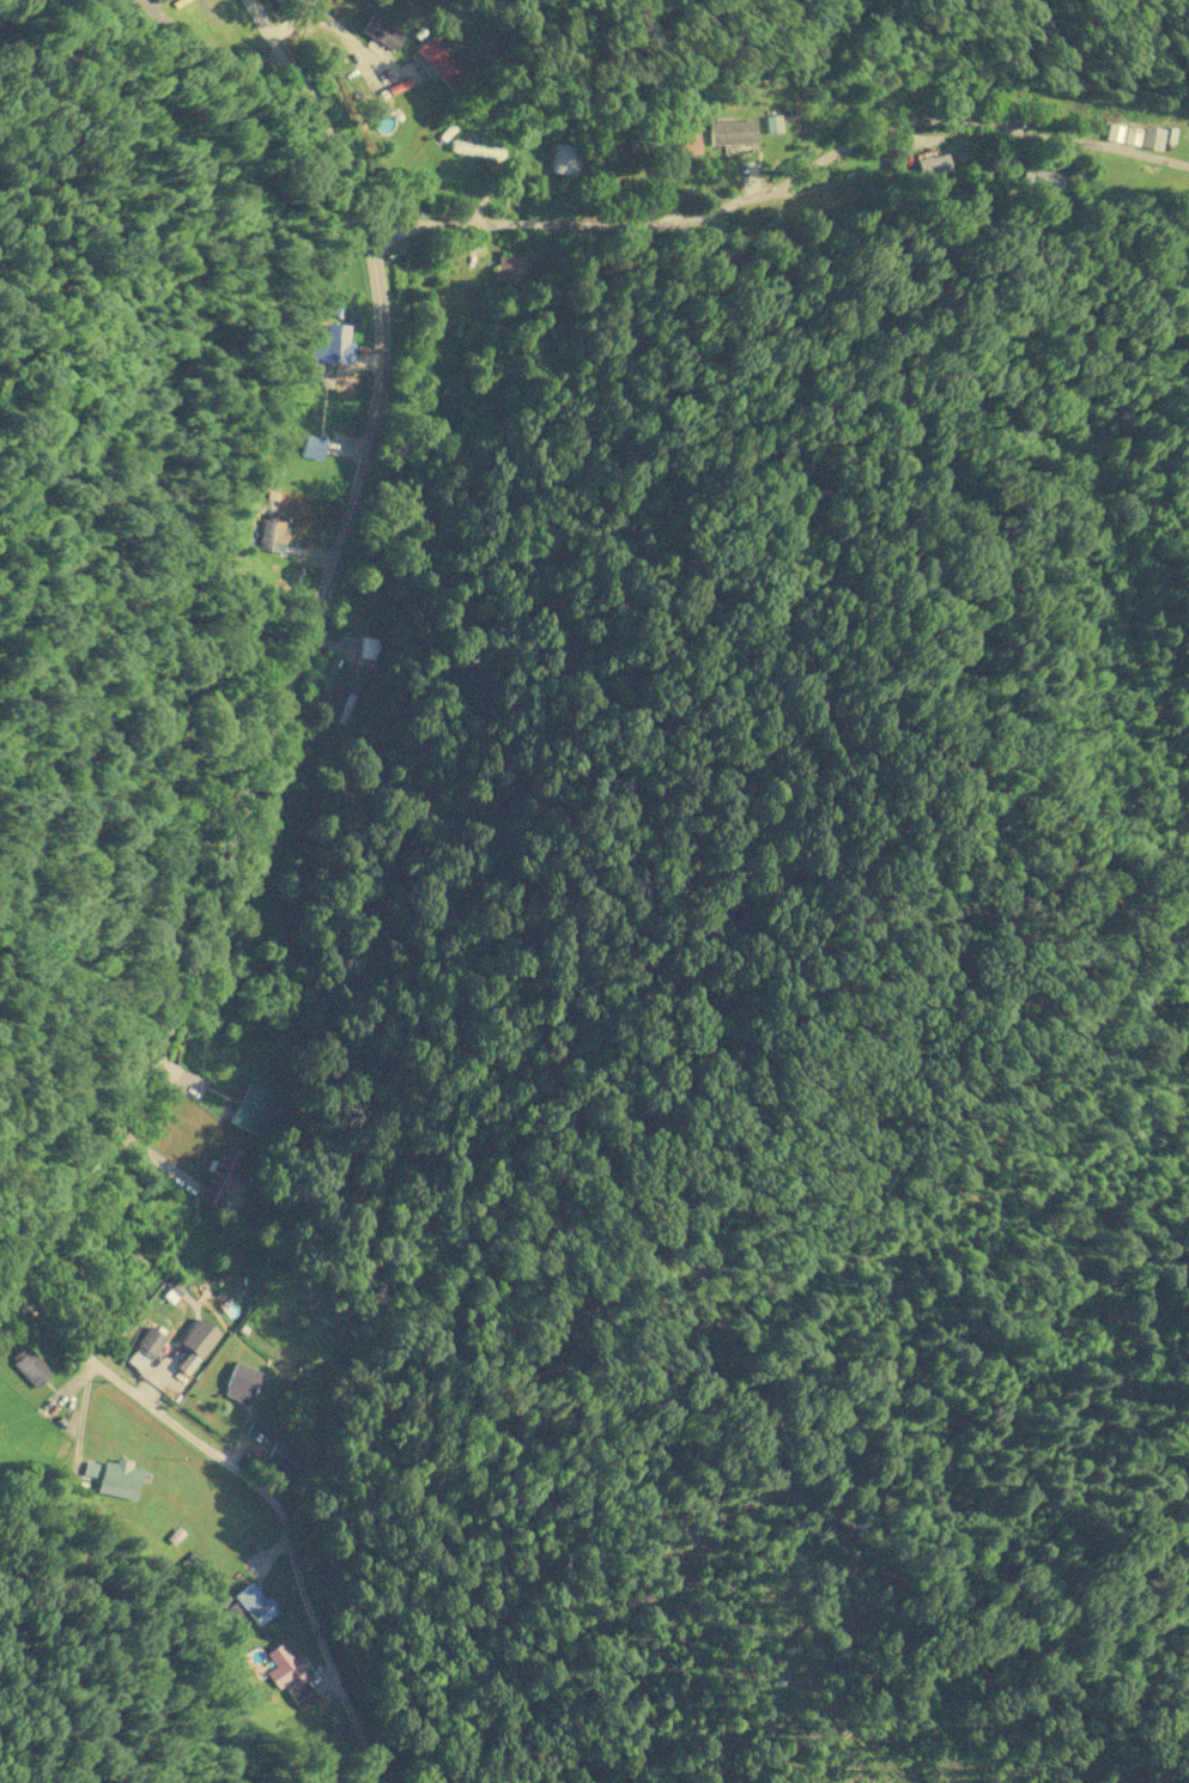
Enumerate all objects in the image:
building: (157, 0)
road: (329, 25)
building: (382, 32)
building: (437, 60)
building: (772, 123)
building: (730, 132)
building: (1121, 133)
building: (1151, 138)
building: (685, 141)
building: (475, 148)
building: (933, 168)
building: (1041, 181)
road: (787, 186)
building: (516, 269)
building: (333, 346)
building: (313, 447)
building: (269, 535)
building: (368, 648)
road: (292, 661)
building: (333, 703)
building: (250, 1108)
building: (218, 1176)
building: (196, 1344)
building: (144, 1348)
building: (29, 1366)
building: (242, 1382)
building: (281, 1457)
building: (119, 1479)
road: (265, 1487)
building: (196, 1564)
building: (255, 1602)
building: (285, 1667)
building: (302, 1694)

